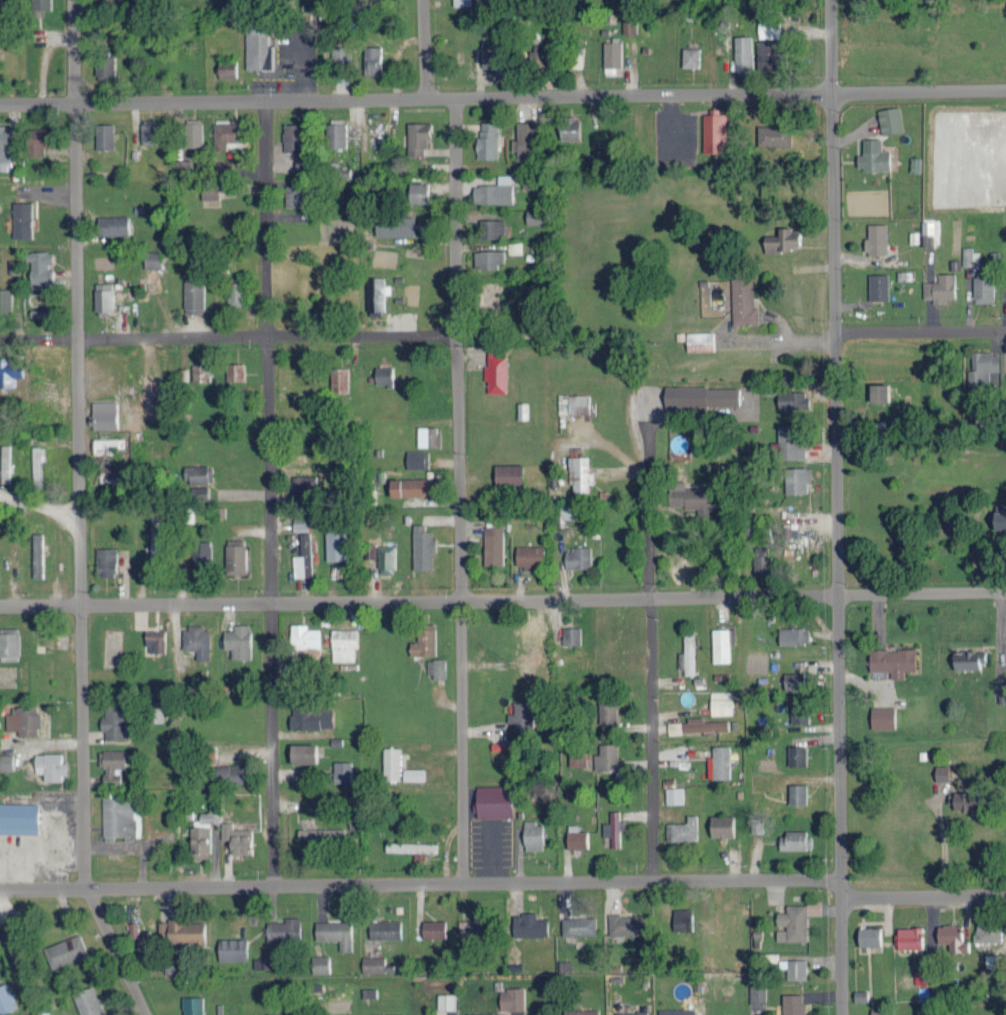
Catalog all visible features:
building: (108, 0)
building: (628, 23)
building: (769, 29)
building: (258, 47)
road: (422, 48)
building: (339, 53)
building: (538, 53)
building: (743, 54)
building: (768, 55)
building: (577, 56)
building: (611, 56)
building: (691, 56)
building: (372, 59)
building: (493, 60)
building: (105, 67)
building: (226, 68)
road: (305, 69)
road: (729, 92)
road: (439, 97)
road: (212, 101)
road: (672, 119)
building: (890, 120)
building: (568, 127)
building: (149, 131)
building: (193, 131)
building: (714, 131)
building: (226, 133)
building: (336, 134)
building: (104, 135)
building: (774, 135)
building: (293, 136)
building: (418, 137)
building: (488, 139)
building: (37, 140)
building: (525, 140)
building: (4, 142)
building: (873, 156)
building: (183, 164)
building: (223, 165)
building: (418, 191)
building: (210, 192)
building: (492, 192)
building: (295, 195)
building: (534, 216)
building: (22, 219)
building: (113, 225)
building: (395, 225)
building: (491, 228)
building: (931, 231)
building: (876, 238)
building: (781, 240)
building: (515, 246)
building: (489, 258)
building: (152, 259)
building: (12, 265)
building: (40, 268)
building: (878, 286)
building: (940, 288)
building: (983, 288)
building: (235, 293)
building: (374, 294)
building: (193, 295)
building: (491, 296)
building: (104, 297)
building: (5, 299)
building: (743, 301)
building: (37, 312)
road: (920, 327)
road: (226, 337)
building: (700, 341)
building: (982, 367)
building: (499, 370)
building: (200, 371)
building: (235, 371)
building: (5, 372)
building: (384, 375)
building: (339, 380)
building: (145, 385)
building: (879, 392)
building: (702, 395)
building: (792, 399)
building: (573, 403)
building: (522, 410)
building: (100, 419)
building: (427, 436)
building: (788, 442)
building: (103, 445)
building: (417, 458)
building: (5, 463)
building: (37, 464)
building: (509, 473)
building: (580, 473)
building: (198, 474)
building: (113, 476)
building: (797, 480)
building: (303, 483)
building: (411, 486)
road: (456, 489)
building: (199, 492)
road: (268, 492)
building: (691, 497)
road: (835, 507)
road: (38, 508)
road: (77, 515)
building: (1000, 516)
building: (300, 525)
building: (155, 537)
building: (335, 544)
building: (422, 547)
building: (496, 548)
building: (371, 550)
building: (202, 553)
building: (37, 554)
building: (235, 556)
building: (529, 556)
building: (303, 557)
building: (577, 557)
building: (386, 558)
building: (761, 559)
building: (105, 561)
road: (502, 597)
building: (571, 635)
building: (793, 635)
building: (305, 636)
building: (155, 640)
building: (197, 640)
building: (238, 641)
building: (9, 643)
building: (344, 644)
building: (427, 644)
road: (650, 645)
building: (721, 645)
building: (688, 653)
building: (968, 659)
building: (893, 660)
building: (435, 667)
building: (794, 680)
building: (1002, 694)
building: (721, 702)
building: (157, 709)
building: (607, 710)
building: (799, 714)
building: (522, 715)
building: (311, 716)
building: (882, 717)
building: (23, 719)
building: (114, 721)
building: (704, 725)
building: (674, 727)
building: (303, 751)
building: (797, 755)
building: (607, 757)
building: (577, 759)
building: (6, 760)
building: (391, 762)
building: (721, 762)
building: (111, 764)
building: (50, 765)
building: (342, 770)
building: (942, 771)
building: (414, 772)
building: (231, 773)
building: (798, 792)
building: (674, 794)
building: (964, 799)
building: (494, 800)
building: (118, 816)
building: (19, 817)
building: (722, 825)
building: (614, 827)
building: (683, 828)
building: (327, 834)
building: (532, 834)
building: (237, 837)
building: (577, 838)
building: (794, 839)
building: (200, 840)
road: (942, 843)
building: (414, 848)
road: (418, 882)
road: (922, 894)
building: (814, 907)
building: (792, 922)
building: (626, 923)
building: (479, 924)
building: (529, 924)
building: (578, 924)
building: (433, 927)
building: (284, 928)
building: (385, 928)
building: (181, 929)
building: (335, 931)
building: (988, 931)
building: (869, 934)
building: (909, 936)
building: (952, 936)
building: (232, 948)
building: (65, 950)
building: (993, 961)
building: (263, 962)
building: (320, 963)
building: (373, 963)
building: (794, 966)
building: (368, 991)
building: (757, 992)
building: (860, 994)
building: (512, 997)
building: (5, 998)
building: (446, 1000)
building: (88, 1001)
building: (793, 1003)
building: (192, 1005)
building: (580, 1011)
building: (676, 1011)
building: (878, 1011)
building: (631, 1012)
building: (282, 1013)
building: (486, 1013)
building: (383, 1014)

